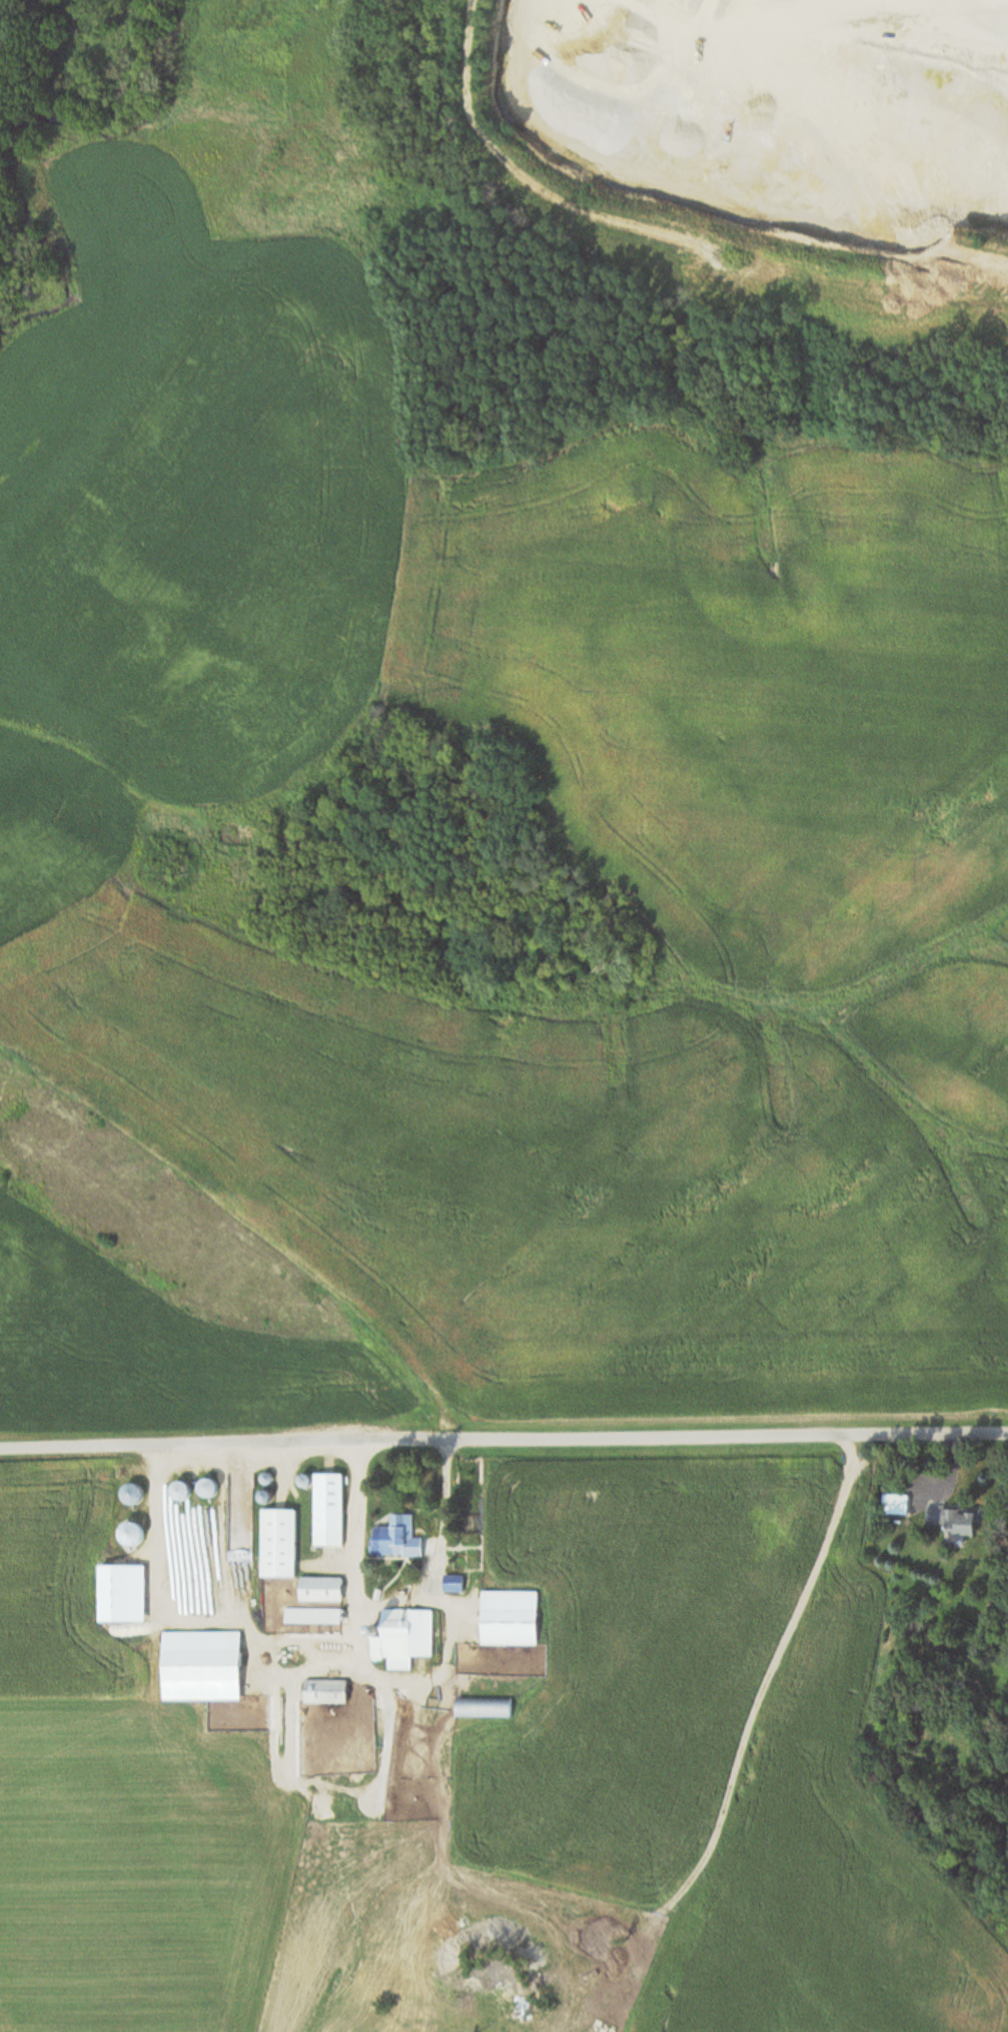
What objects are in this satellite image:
road: (503, 1442)
building: (896, 1506)
building: (330, 1511)
building: (955, 1520)
building: (397, 1543)
building: (280, 1544)
building: (454, 1585)
building: (322, 1591)
building: (313, 1617)
building: (510, 1629)
building: (405, 1636)
building: (203, 1666)
building: (327, 1693)
building: (484, 1709)
road: (744, 1721)
mineshaft: (475, 1947)

